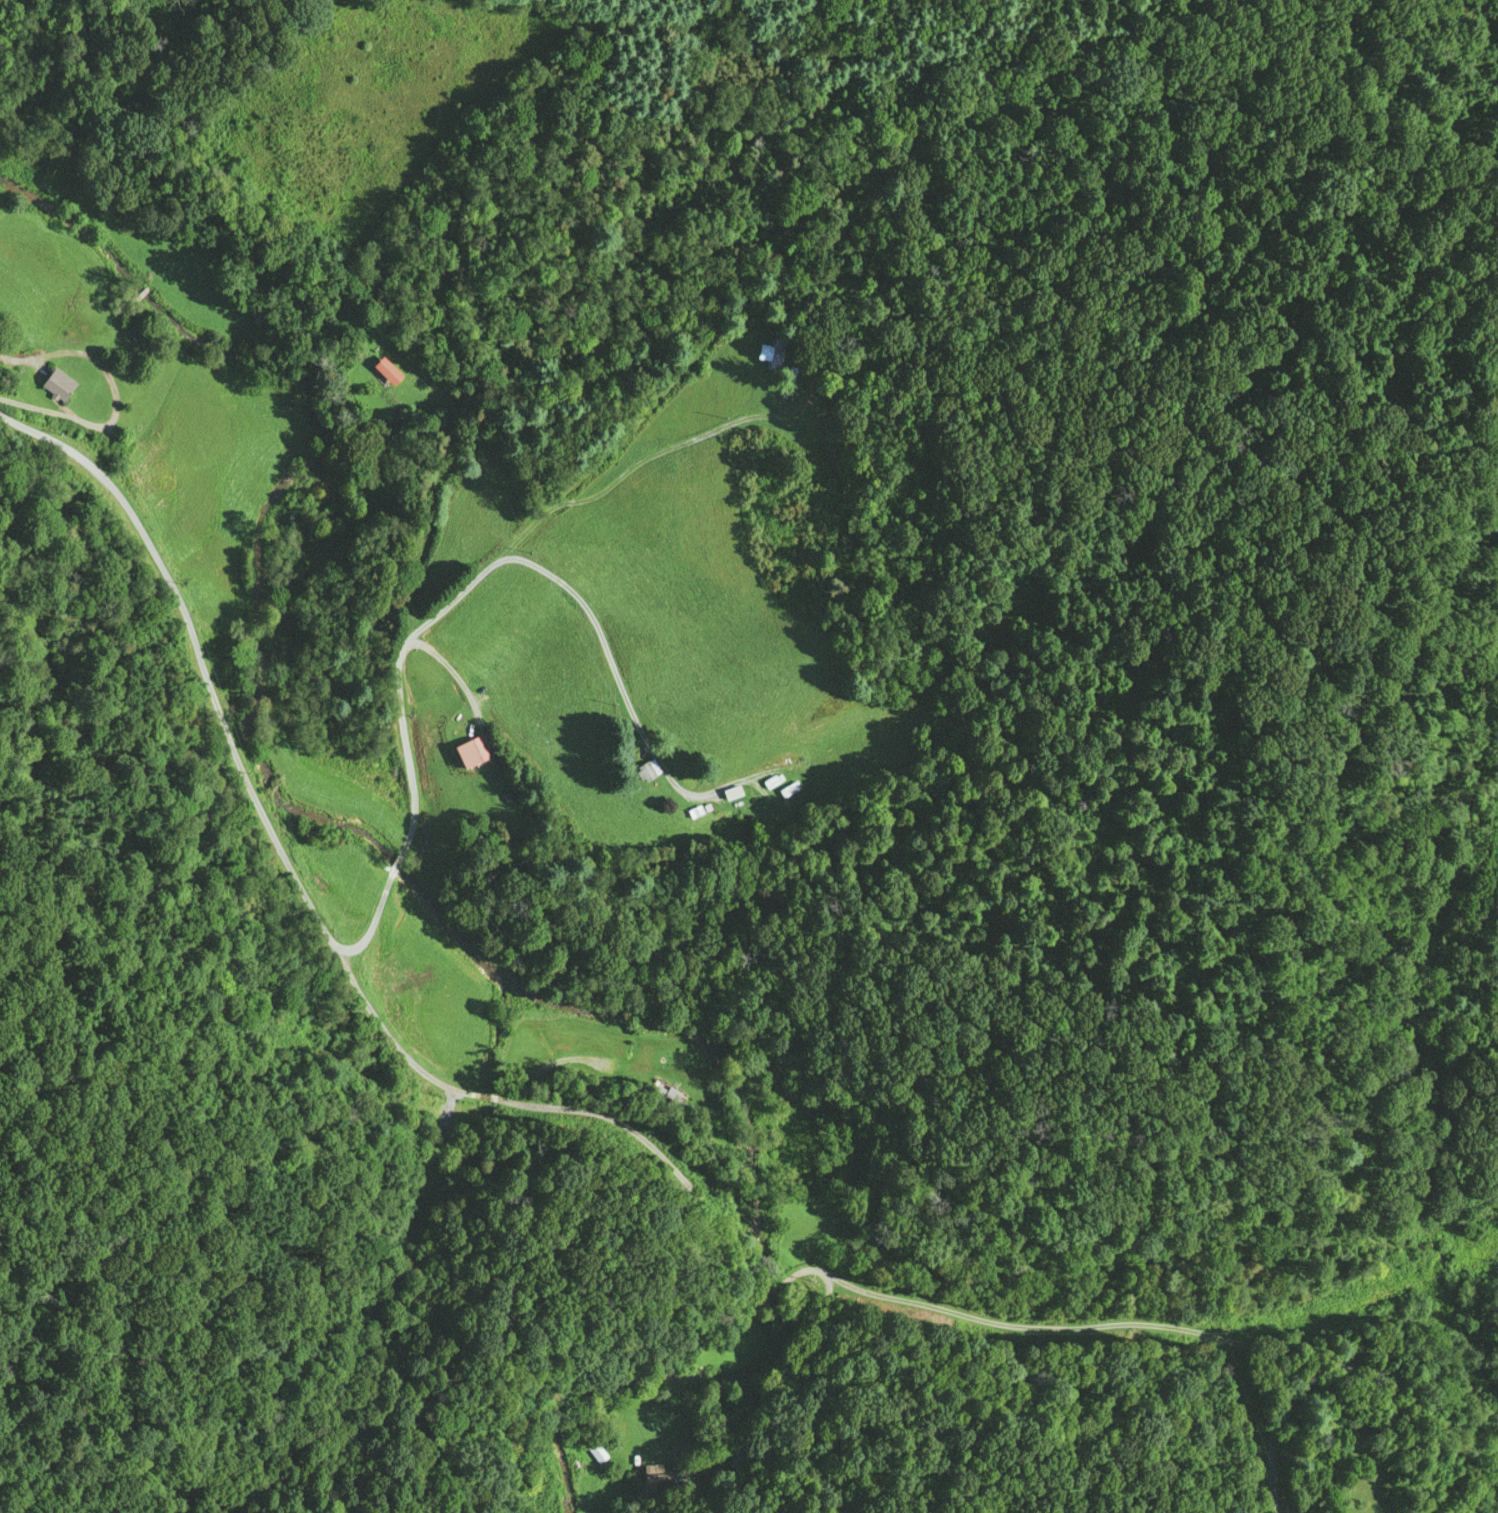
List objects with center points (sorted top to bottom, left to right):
building: (258, 314)
building: (132, 332)
building: (774, 353)
building: (387, 369)
building: (57, 383)
road: (539, 510)
building: (470, 751)
building: (646, 769)
building: (788, 788)
building: (731, 791)
building: (671, 1099)
road: (620, 1122)
building: (594, 1451)
building: (735, 1460)
building: (651, 1480)

